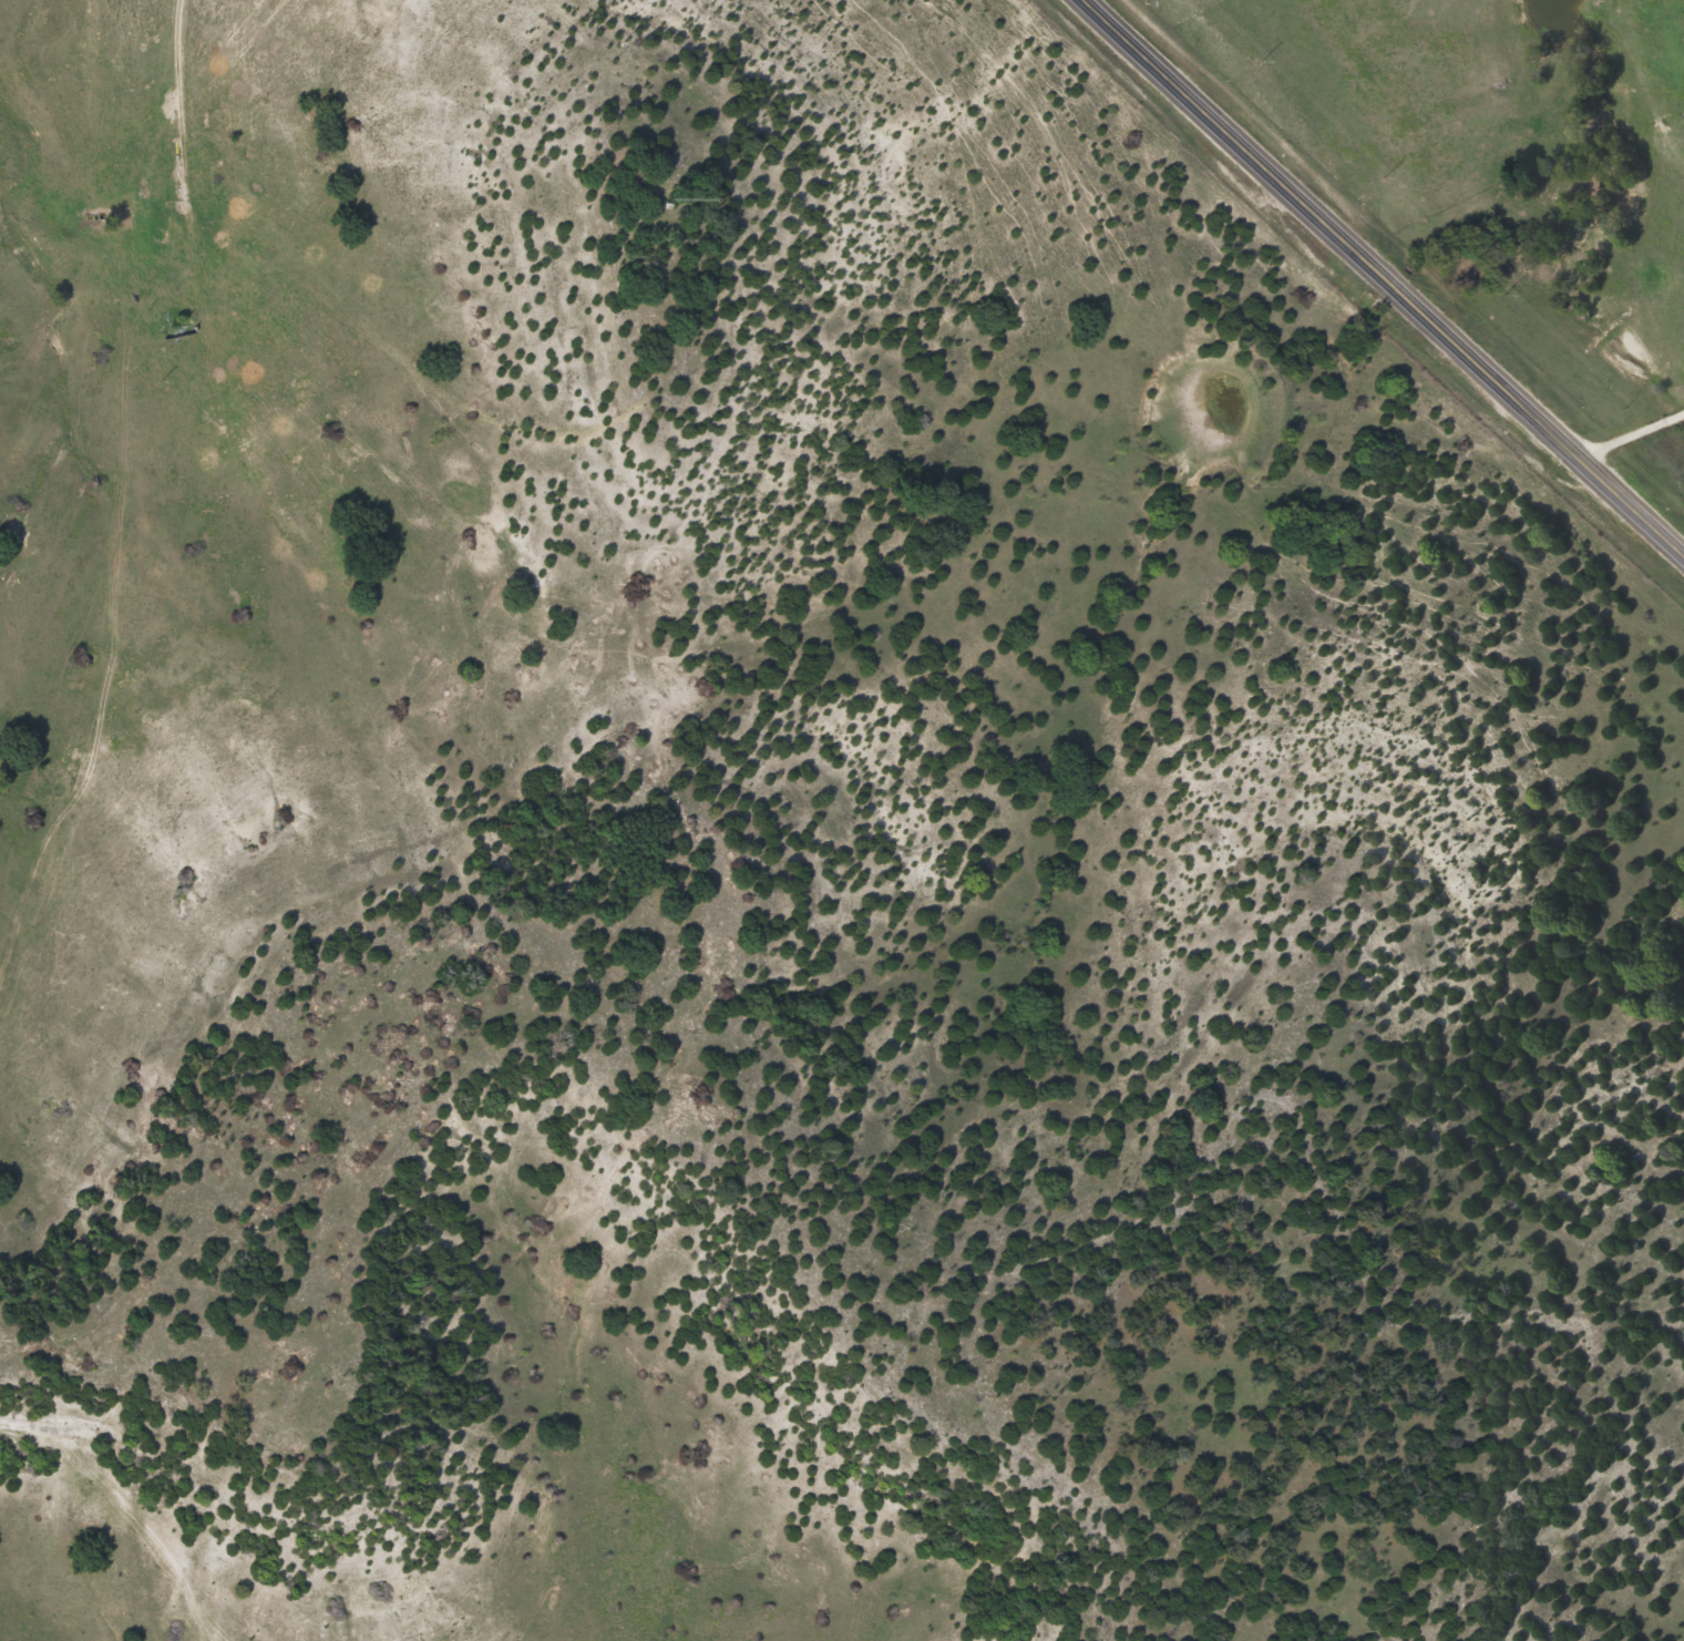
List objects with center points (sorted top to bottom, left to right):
road: (1386, 274)
road: (388, 316)

